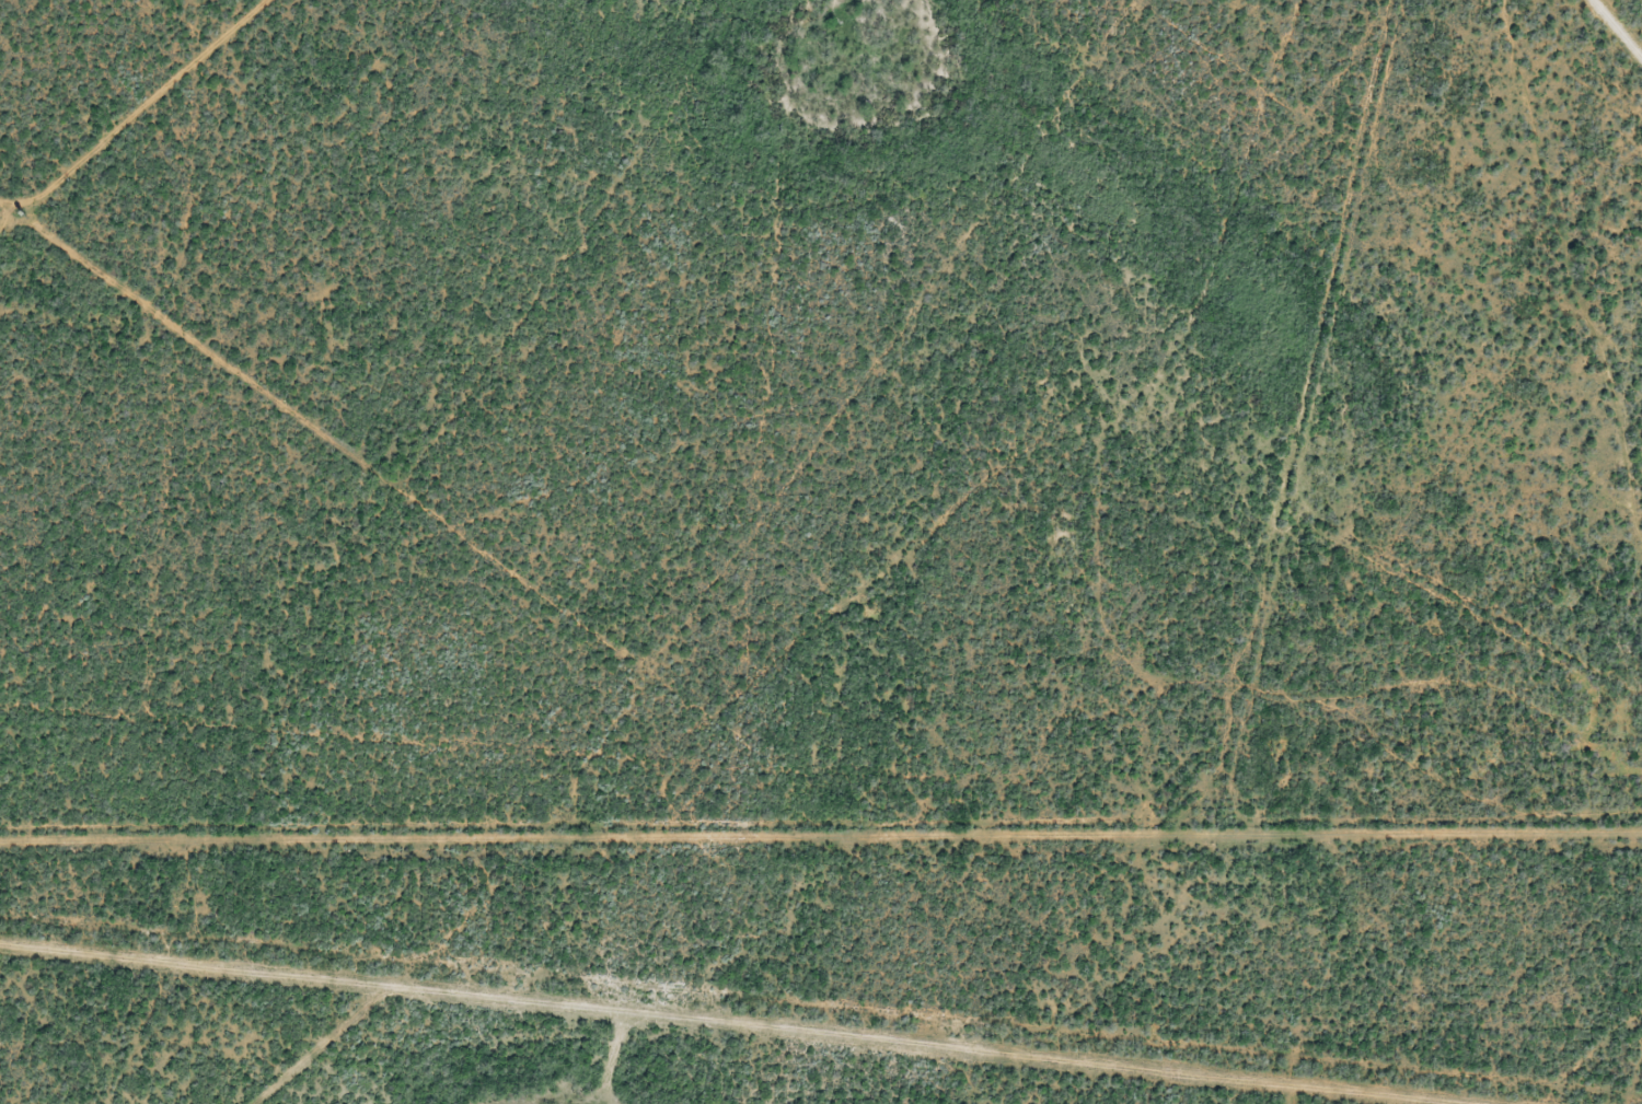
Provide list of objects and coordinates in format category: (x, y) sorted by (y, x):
road: (1598, 171)
road: (820, 880)

